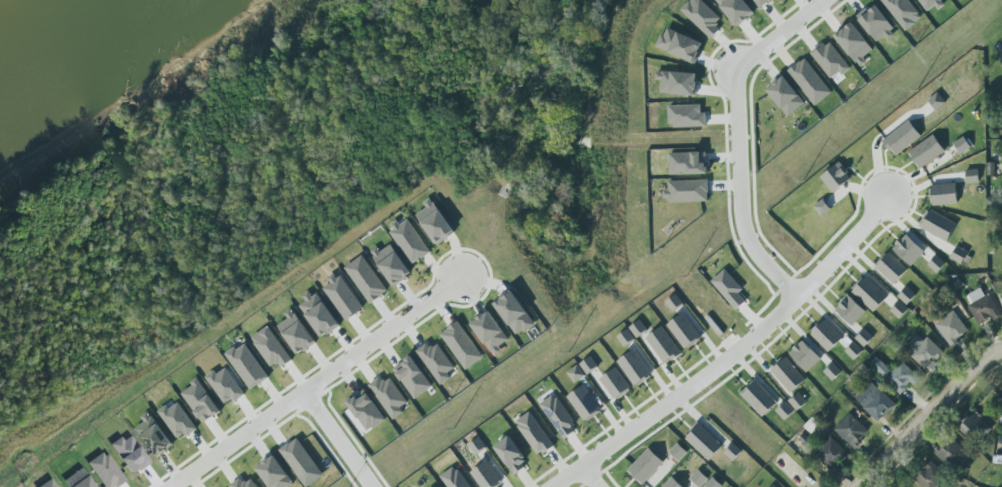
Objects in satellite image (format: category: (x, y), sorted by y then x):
building: (761, 2)
building: (933, 4)
building: (737, 11)
building: (903, 12)
building: (703, 17)
building: (877, 24)
river: (58, 42)
building: (855, 44)
building: (680, 45)
building: (1001, 56)
building: (832, 62)
building: (810, 82)
building: (678, 83)
building: (787, 96)
building: (937, 102)
building: (687, 116)
building: (902, 137)
road: (733, 138)
building: (962, 145)
building: (925, 151)
building: (688, 163)
building: (972, 176)
building: (836, 177)
building: (687, 191)
building: (945, 194)
building: (823, 208)
building: (435, 222)
building: (938, 225)
building: (409, 240)
building: (909, 249)
building: (962, 256)
building: (392, 263)
building: (937, 264)
building: (892, 268)
building: (366, 279)
building: (730, 289)
building: (869, 293)
building: (907, 295)
building: (342, 296)
building: (1001, 298)
building: (674, 303)
building: (983, 306)
building: (851, 310)
building: (900, 310)
building: (515, 313)
building: (320, 314)
building: (951, 327)
building: (638, 329)
building: (684, 331)
building: (296, 332)
building: (491, 332)
building: (825, 335)
building: (626, 338)
building: (864, 338)
building: (462, 345)
building: (664, 345)
building: (271, 348)
building: (854, 351)
building: (924, 351)
road: (726, 355)
building: (805, 356)
building: (437, 361)
building: (589, 365)
building: (247, 366)
building: (634, 368)
building: (833, 372)
building: (576, 374)
building: (788, 374)
building: (896, 375)
building: (413, 377)
road: (309, 383)
building: (615, 383)
building: (226, 385)
building: (389, 396)
building: (758, 397)
building: (201, 401)
building: (798, 401)
building: (583, 403)
building: (879, 406)
building: (784, 410)
building: (364, 413)
building: (558, 416)
road: (930, 416)
building: (178, 420)
building: (974, 427)
building: (852, 430)
building: (534, 433)
building: (154, 434)
road: (330, 440)
building: (704, 442)
building: (477, 446)
building: (677, 449)
building: (733, 452)
building: (512, 454)
building: (832, 454)
building: (953, 454)
building: (299, 460)
building: (646, 466)
building: (105, 470)
building: (275, 473)
road: (795, 474)
building: (930, 475)
building: (486, 476)
road: (584, 478)
building: (699, 478)
building: (79, 479)
building: (454, 479)
building: (673, 483)
building: (714, 483)
building: (48, 484)
building: (774, 486)

